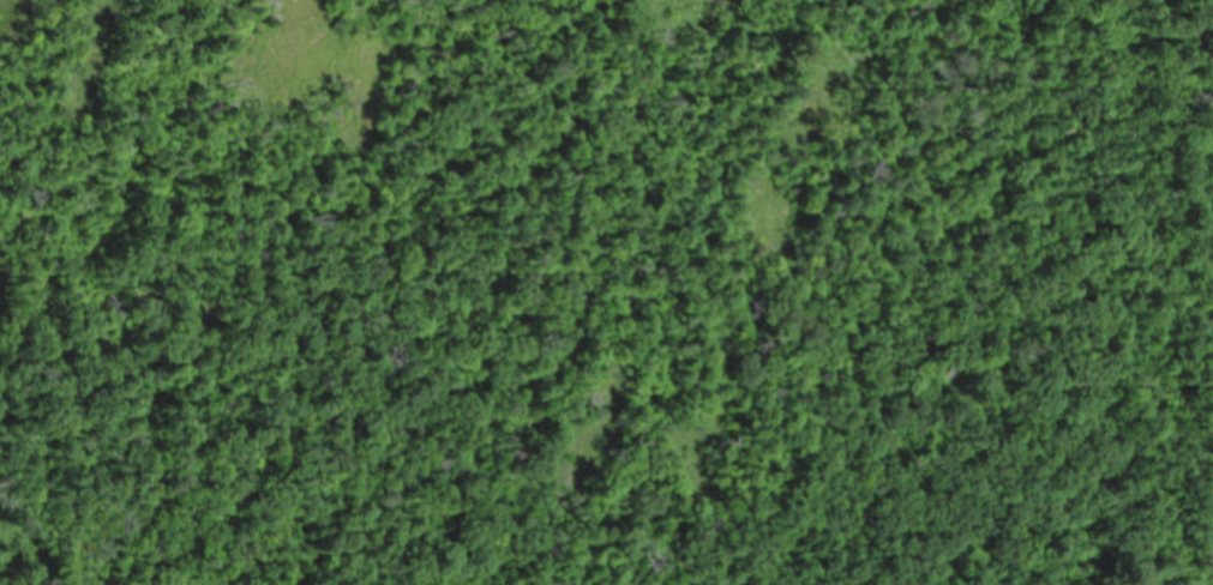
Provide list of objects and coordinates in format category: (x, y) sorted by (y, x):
park: (606, 292)

